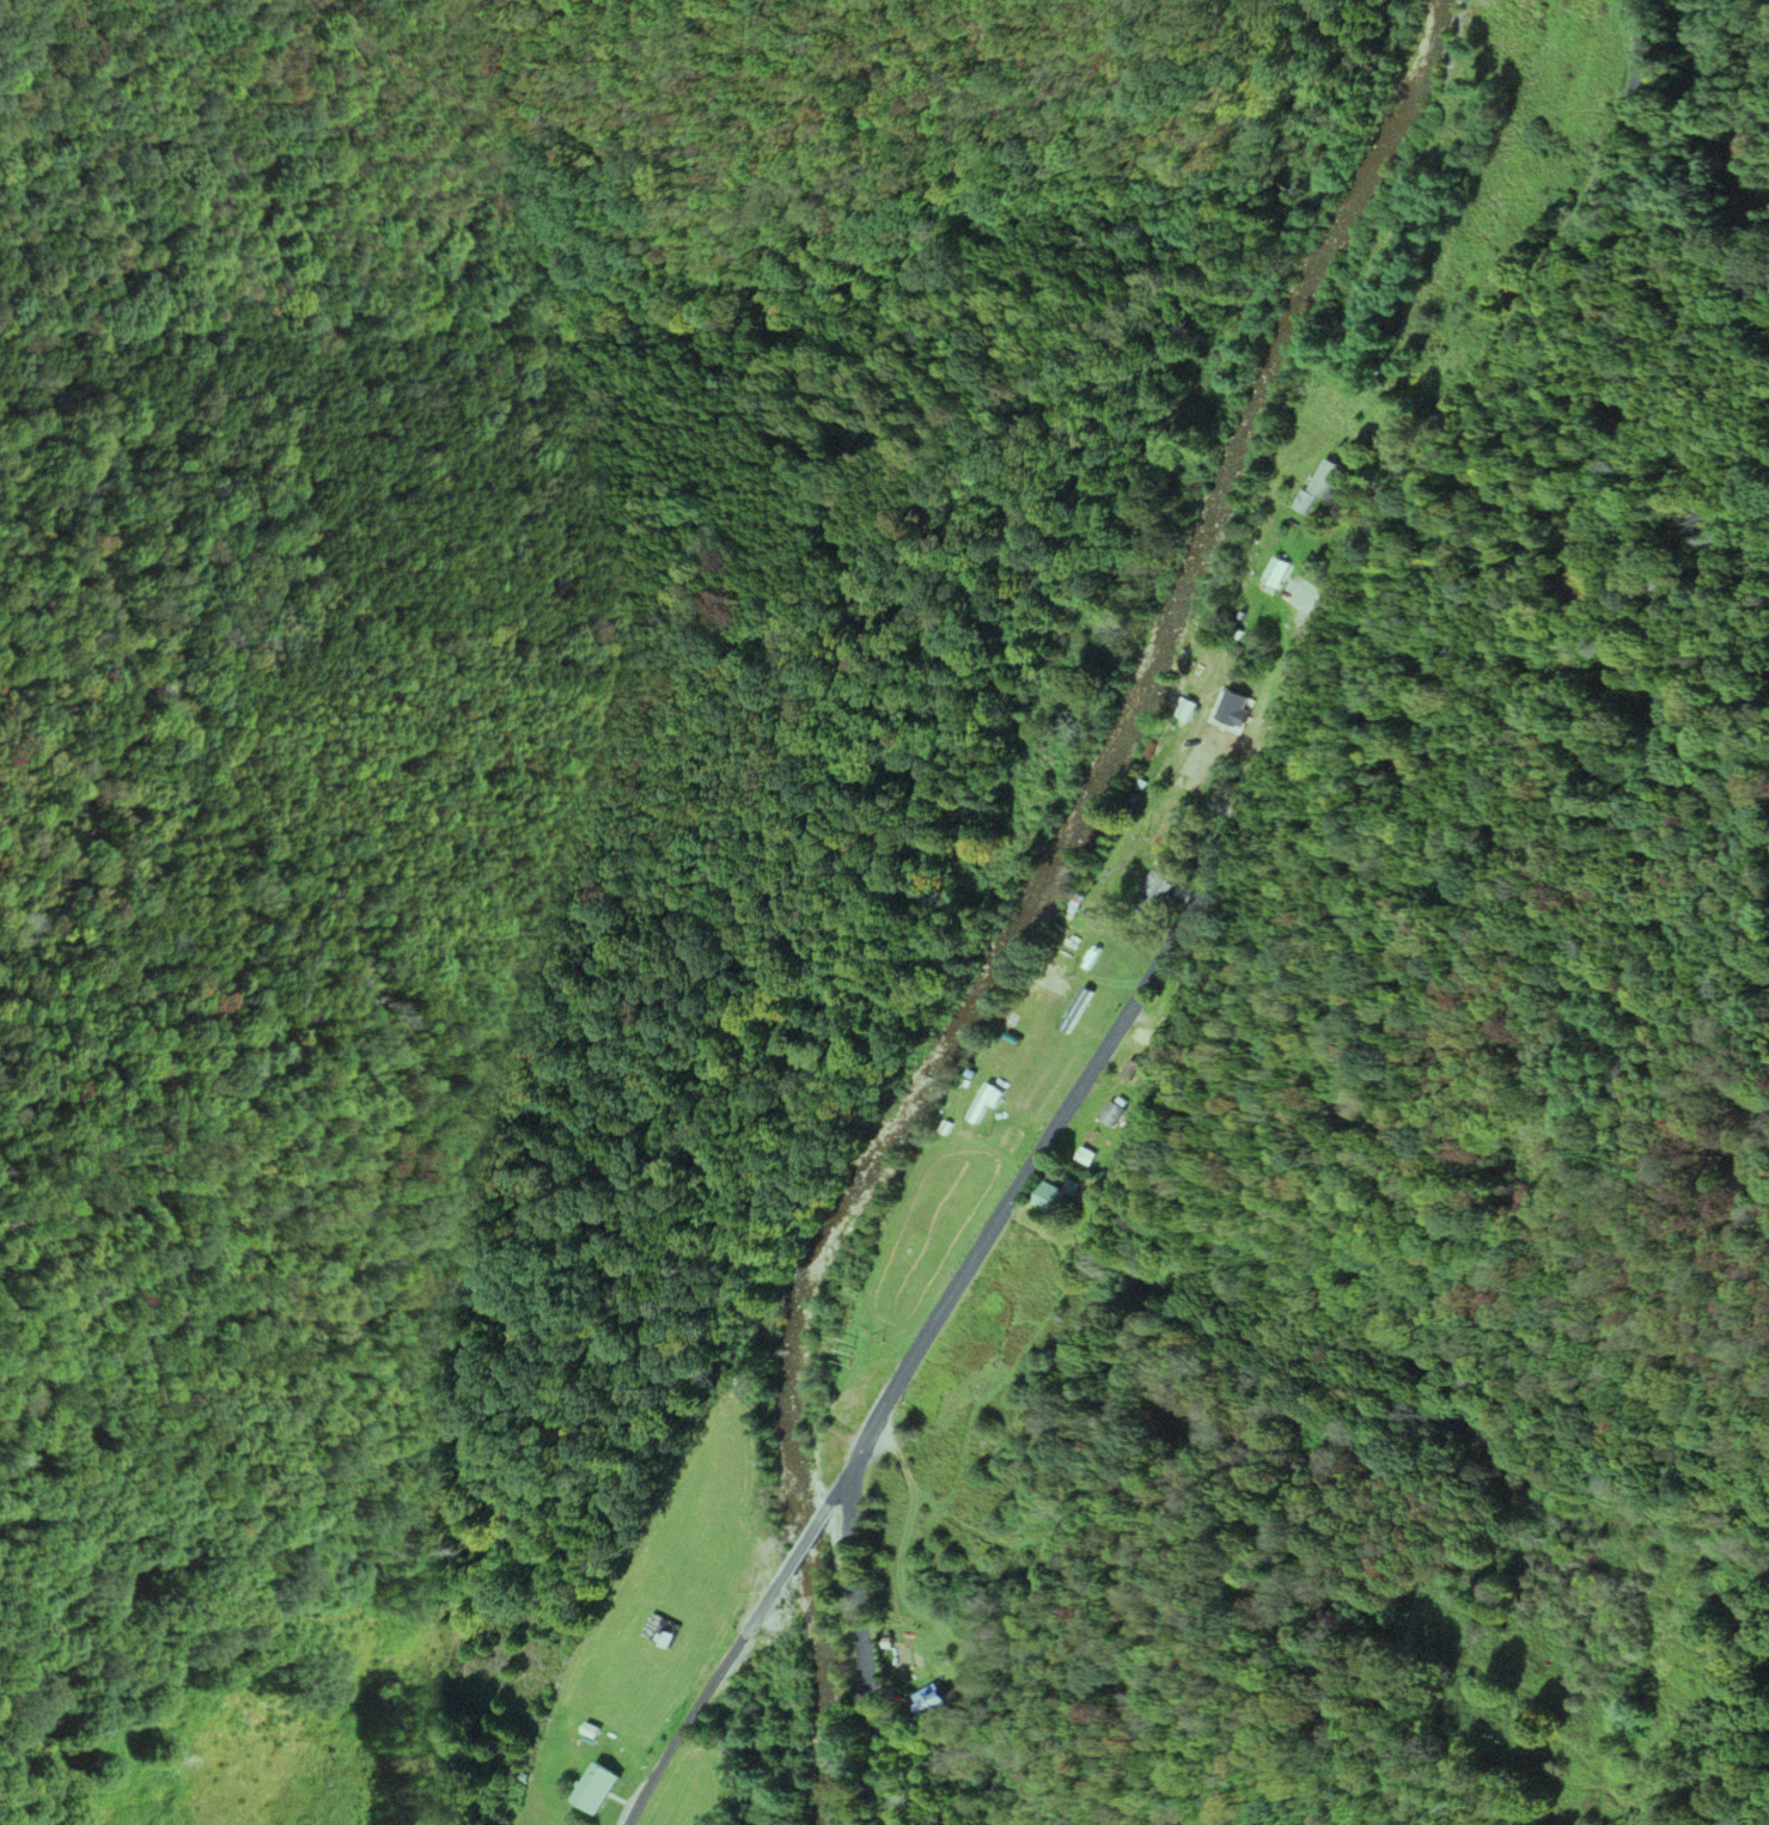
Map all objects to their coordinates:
building: (1318, 486)
building: (1275, 574)
road: (1310, 654)
building: (1196, 768)
building: (1155, 885)
river: (1042, 898)
building: (1181, 995)
building: (984, 1101)
building: (1118, 1117)
building: (1050, 1197)
road: (891, 1388)
road: (842, 1491)
road: (800, 1546)
building: (659, 1628)
road: (864, 1654)
building: (935, 1703)
road: (696, 1708)
building: (596, 1788)

